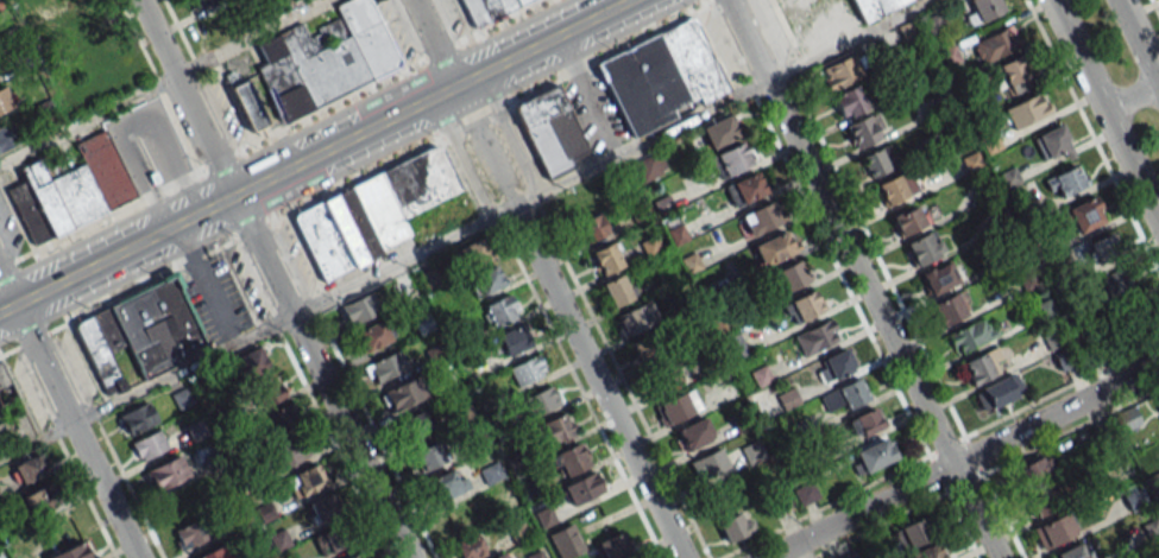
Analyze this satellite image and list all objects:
building: (201, 2)
building: (485, 7)
building: (983, 9)
building: (826, 18)
road: (251, 38)
road: (1139, 40)
road: (440, 42)
building: (996, 44)
road: (1078, 55)
building: (326, 58)
building: (838, 74)
building: (1015, 74)
building: (661, 76)
road: (1132, 96)
road: (184, 99)
building: (4, 100)
road: (725, 100)
building: (849, 101)
building: (247, 104)
parking lot: (594, 104)
building: (1027, 109)
road: (487, 119)
road: (87, 120)
building: (549, 129)
building: (864, 129)
road: (461, 131)
road: (510, 131)
building: (719, 131)
building: (6, 138)
building: (1052, 142)
road: (314, 156)
road: (461, 156)
building: (730, 159)
building: (877, 160)
road: (495, 164)
road: (1132, 165)
building: (648, 166)
building: (1067, 180)
building: (896, 186)
building: (70, 188)
building: (744, 188)
building: (371, 213)
building: (1085, 214)
building: (758, 217)
building: (908, 220)
building: (592, 227)
building: (676, 234)
building: (650, 246)
building: (924, 247)
building: (1102, 247)
building: (774, 248)
building: (471, 254)
building: (606, 258)
building: (790, 275)
road: (861, 278)
building: (939, 278)
building: (1121, 279)
building: (485, 280)
road: (207, 283)
building: (617, 290)
road: (6, 292)
building: (802, 306)
building: (950, 307)
building: (359, 309)
building: (1045, 309)
building: (499, 311)
building: (635, 317)
building: (422, 323)
road: (258, 329)
building: (141, 335)
building: (372, 335)
building: (817, 337)
building: (514, 341)
building: (649, 344)
building: (733, 344)
building: (1060, 349)
building: (436, 354)
building: (834, 366)
building: (981, 366)
building: (385, 367)
building: (527, 370)
building: (662, 374)
building: (258, 376)
road: (321, 376)
road: (600, 380)
building: (999, 392)
building: (402, 394)
building: (844, 397)
building: (542, 400)
building: (676, 407)
building: (11, 414)
building: (137, 418)
building: (279, 421)
building: (864, 421)
building: (414, 426)
road: (74, 431)
building: (552, 431)
building: (692, 435)
building: (146, 445)
building: (752, 451)
building: (290, 452)
building: (873, 455)
building: (428, 456)
road: (963, 459)
building: (569, 461)
building: (711, 465)
building: (30, 469)
building: (166, 473)
building: (1033, 473)
building: (306, 480)
building: (448, 482)
building: (582, 488)
building: (805, 493)
building: (39, 499)
building: (1045, 500)
building: (325, 507)
building: (265, 512)
building: (735, 526)
building: (1152, 528)
building: (1054, 530)
building: (913, 533)
building: (188, 534)
building: (333, 539)
building: (279, 540)
building: (470, 546)
building: (615, 546)
building: (927, 551)
building: (73, 552)
building: (1072, 552)
building: (213, 553)
building: (358, 556)
building: (502, 556)

